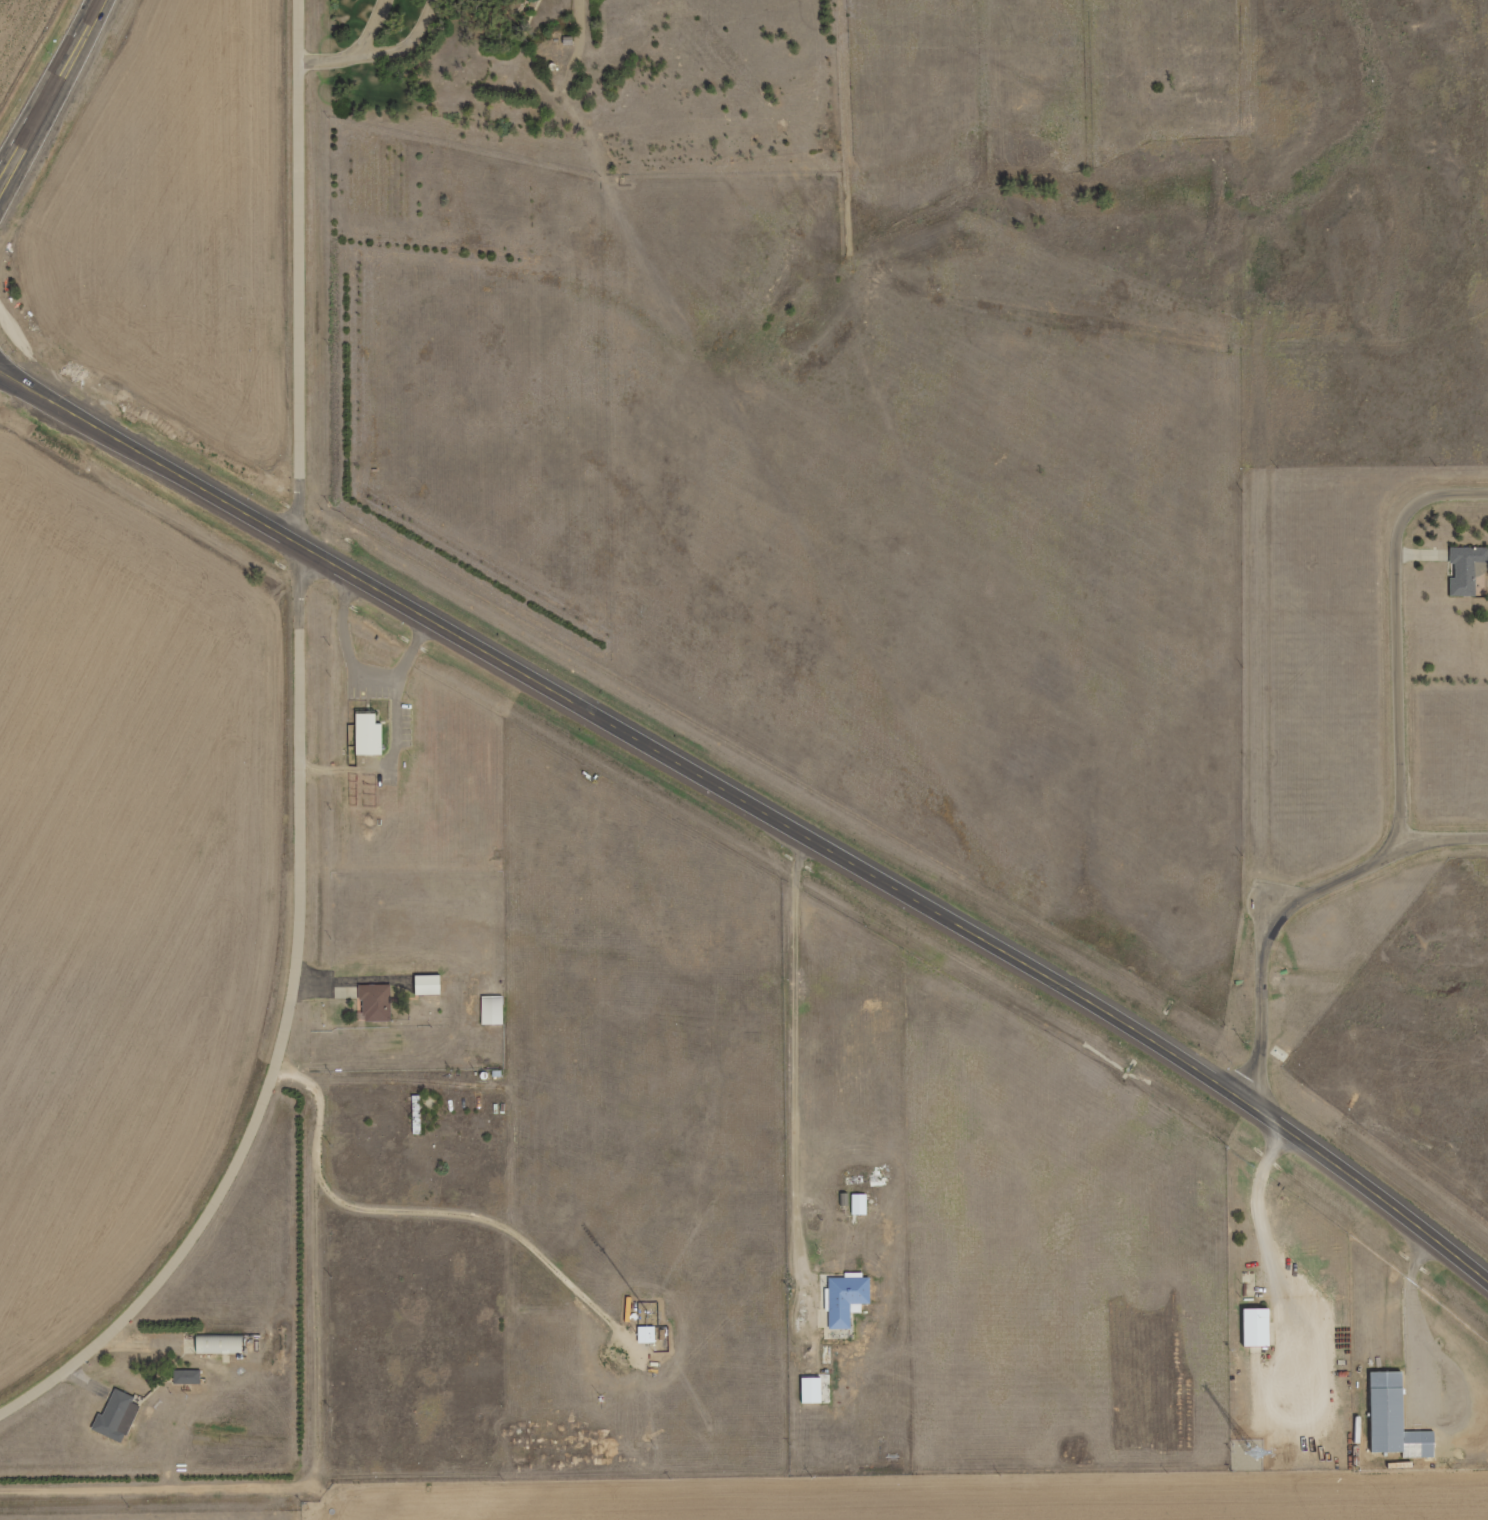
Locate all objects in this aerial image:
road: (53, 92)
road: (12, 371)
road: (12, 382)
building: (1463, 569)
road: (1404, 641)
building: (373, 739)
road: (303, 763)
road: (756, 806)
road: (1441, 844)
road: (1267, 939)
building: (432, 989)
building: (382, 1006)
building: (498, 1014)
road: (801, 1078)
building: (415, 1114)
building: (857, 1204)
building: (865, 1209)
road: (438, 1217)
building: (852, 1303)
building: (1260, 1332)
building: (644, 1334)
building: (653, 1338)
building: (224, 1349)
building: (183, 1376)
building: (194, 1381)
building: (123, 1420)
building: (1399, 1424)

